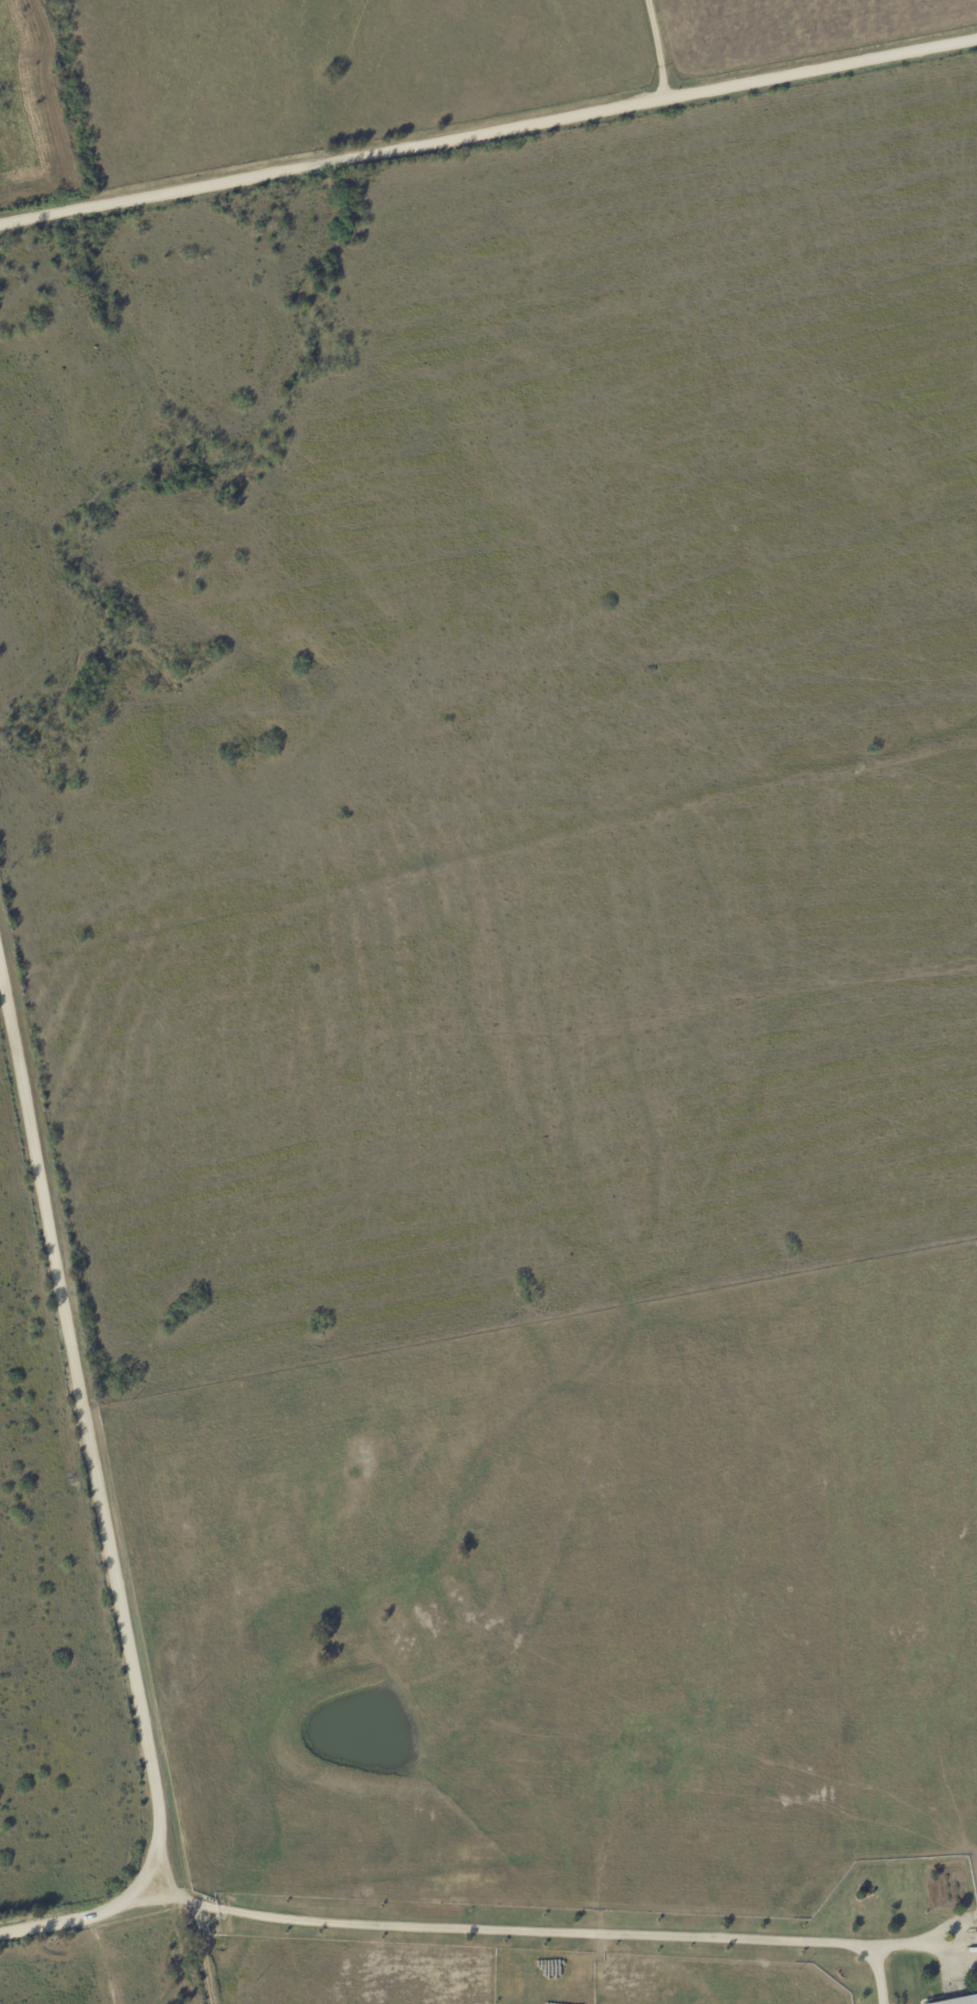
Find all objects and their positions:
road: (651, 50)
road: (488, 133)
road: (100, 1508)
road: (196, 1913)
road: (559, 1931)
building: (958, 2000)

